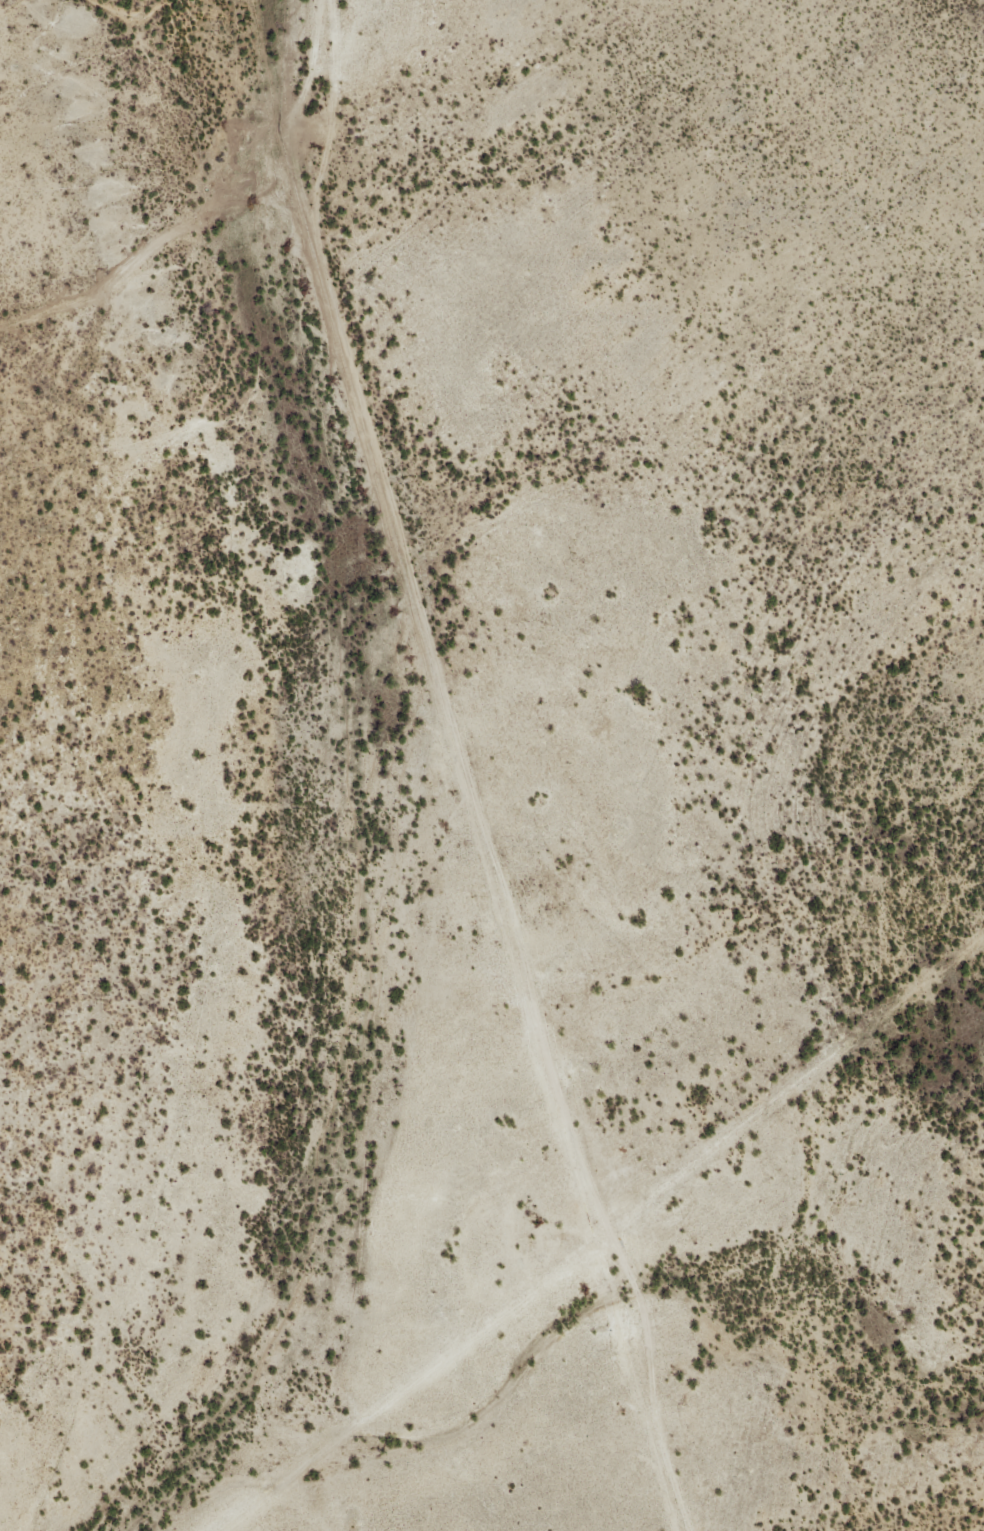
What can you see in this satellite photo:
road: (80, 546)
road: (489, 1498)

